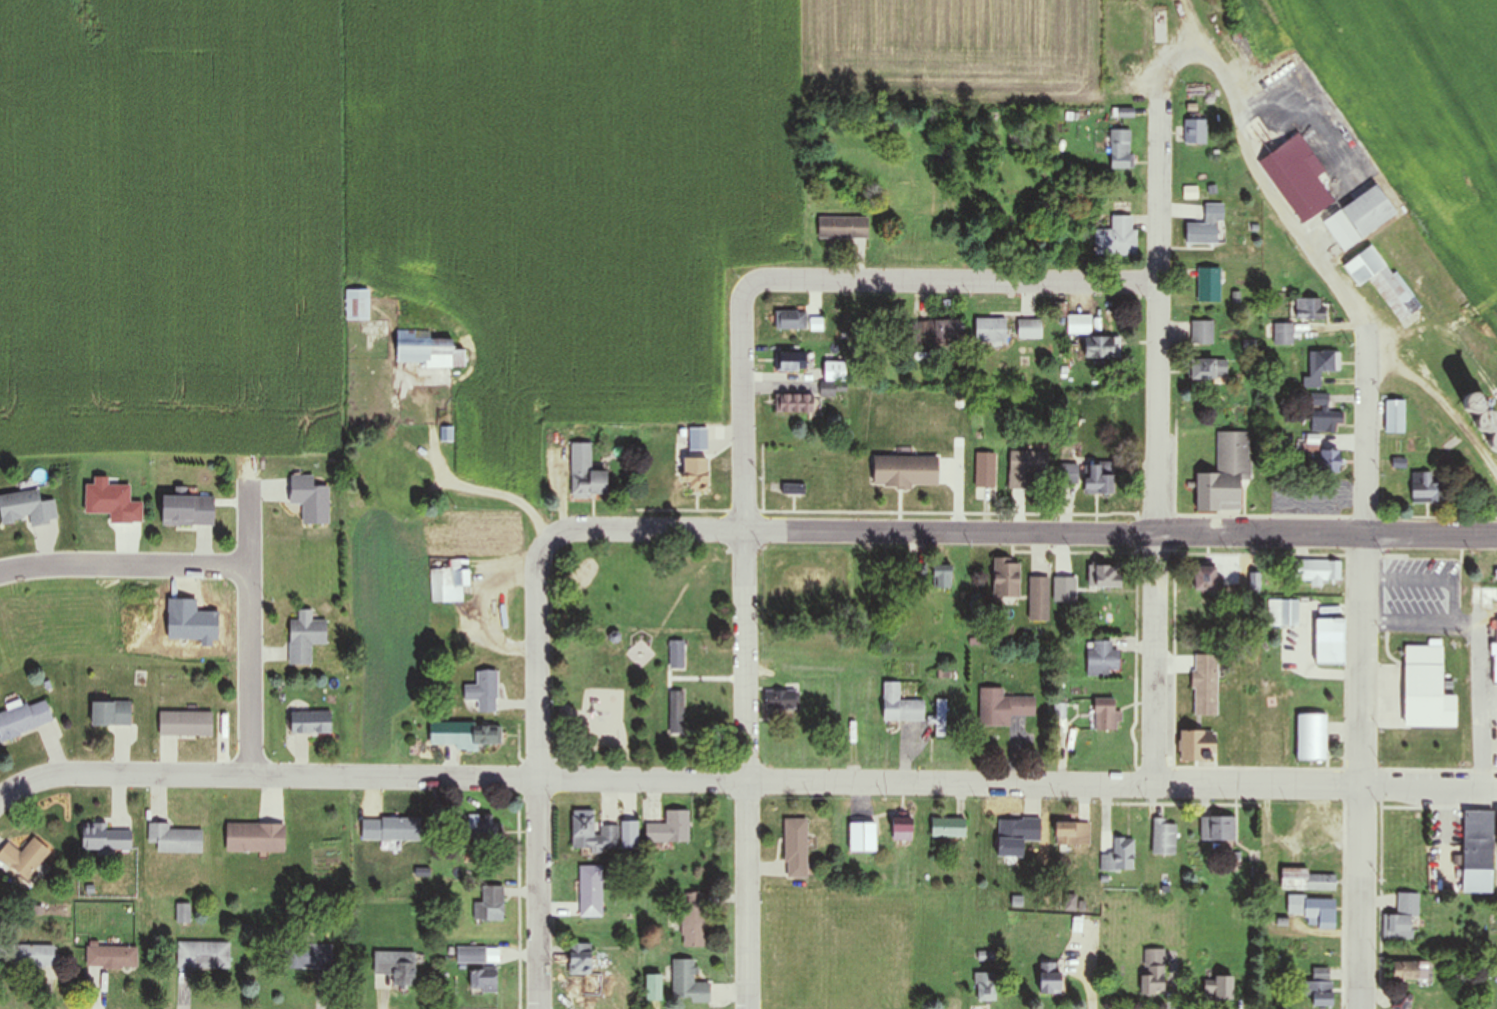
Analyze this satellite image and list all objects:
building: (1125, 113)
building: (1194, 132)
building: (1121, 149)
building: (1297, 177)
building: (1358, 218)
building: (1206, 226)
building: (843, 228)
building: (1116, 237)
building: (1383, 278)
road: (954, 280)
building: (1209, 284)
building: (357, 304)
building: (1308, 309)
building: (791, 320)
building: (1079, 324)
building: (1029, 329)
building: (990, 330)
building: (936, 332)
building: (1202, 332)
building: (1283, 334)
building: (1101, 348)
building: (426, 350)
building: (792, 361)
building: (1318, 368)
building: (1208, 369)
building: (833, 375)
building: (795, 404)
building: (1323, 415)
building: (1395, 417)
building: (697, 439)
road: (1159, 439)
building: (1322, 455)
building: (1026, 470)
building: (985, 471)
building: (1229, 472)
building: (393, 474)
building: (585, 474)
building: (694, 477)
building: (1099, 481)
building: (1426, 488)
building: (790, 489)
building: (27, 509)
building: (185, 512)
road: (1022, 533)
road: (124, 566)
building: (1316, 571)
building: (1496, 574)
building: (916, 577)
building: (1105, 577)
building: (941, 578)
building: (1206, 580)
building: (1006, 582)
building: (1255, 582)
building: (447, 584)
building: (1038, 600)
building: (1289, 614)
road: (249, 627)
building: (304, 640)
building: (1328, 643)
road: (745, 648)
building: (1496, 654)
building: (676, 655)
building: (1101, 659)
building: (1424, 672)
road: (1367, 677)
building: (1205, 685)
building: (483, 692)
building: (780, 701)
building: (900, 706)
building: (1002, 708)
building: (676, 713)
building: (109, 715)
building: (1104, 715)
building: (941, 717)
building: (24, 720)
building: (309, 723)
building: (185, 724)
building: (444, 734)
building: (484, 736)
building: (1311, 739)
building: (1201, 746)
road: (538, 770)
road: (745, 780)
building: (948, 827)
building: (1218, 827)
building: (669, 828)
building: (901, 828)
building: (483, 831)
building: (592, 833)
building: (1072, 833)
building: (628, 834)
building: (1016, 835)
building: (103, 836)
building: (254, 837)
building: (862, 837)
building: (1164, 837)
building: (174, 838)
building: (795, 848)
building: (1477, 851)
building: (1118, 854)
building: (23, 858)
building: (1290, 874)
building: (590, 890)
building: (489, 904)
building: (1076, 906)
building: (1313, 911)
building: (183, 913)
building: (1405, 918)
building: (694, 920)
building: (470, 954)
building: (203, 955)
building: (26, 956)
building: (111, 956)
building: (307, 956)
building: (579, 959)
building: (393, 968)
building: (1410, 970)
building: (1153, 972)
building: (483, 979)
building: (1049, 979)
building: (687, 982)
building: (1217, 984)
building: (652, 986)
building: (985, 986)
building: (1319, 987)

